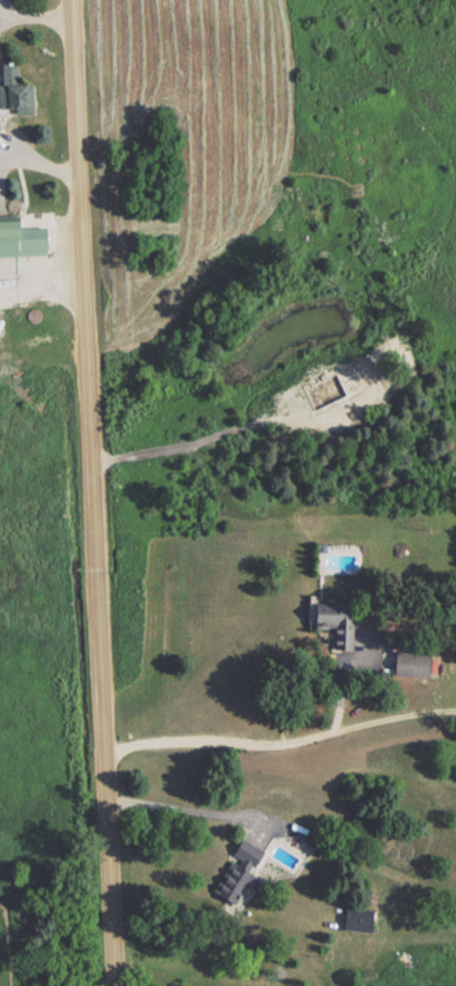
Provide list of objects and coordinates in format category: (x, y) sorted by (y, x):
road: (34, 10)
road: (3, 11)
building: (14, 94)
road: (40, 179)
building: (21, 235)
road: (41, 303)
road: (93, 493)
building: (340, 633)
building: (404, 664)
road: (277, 749)
road: (194, 812)
building: (253, 866)
building: (353, 917)

